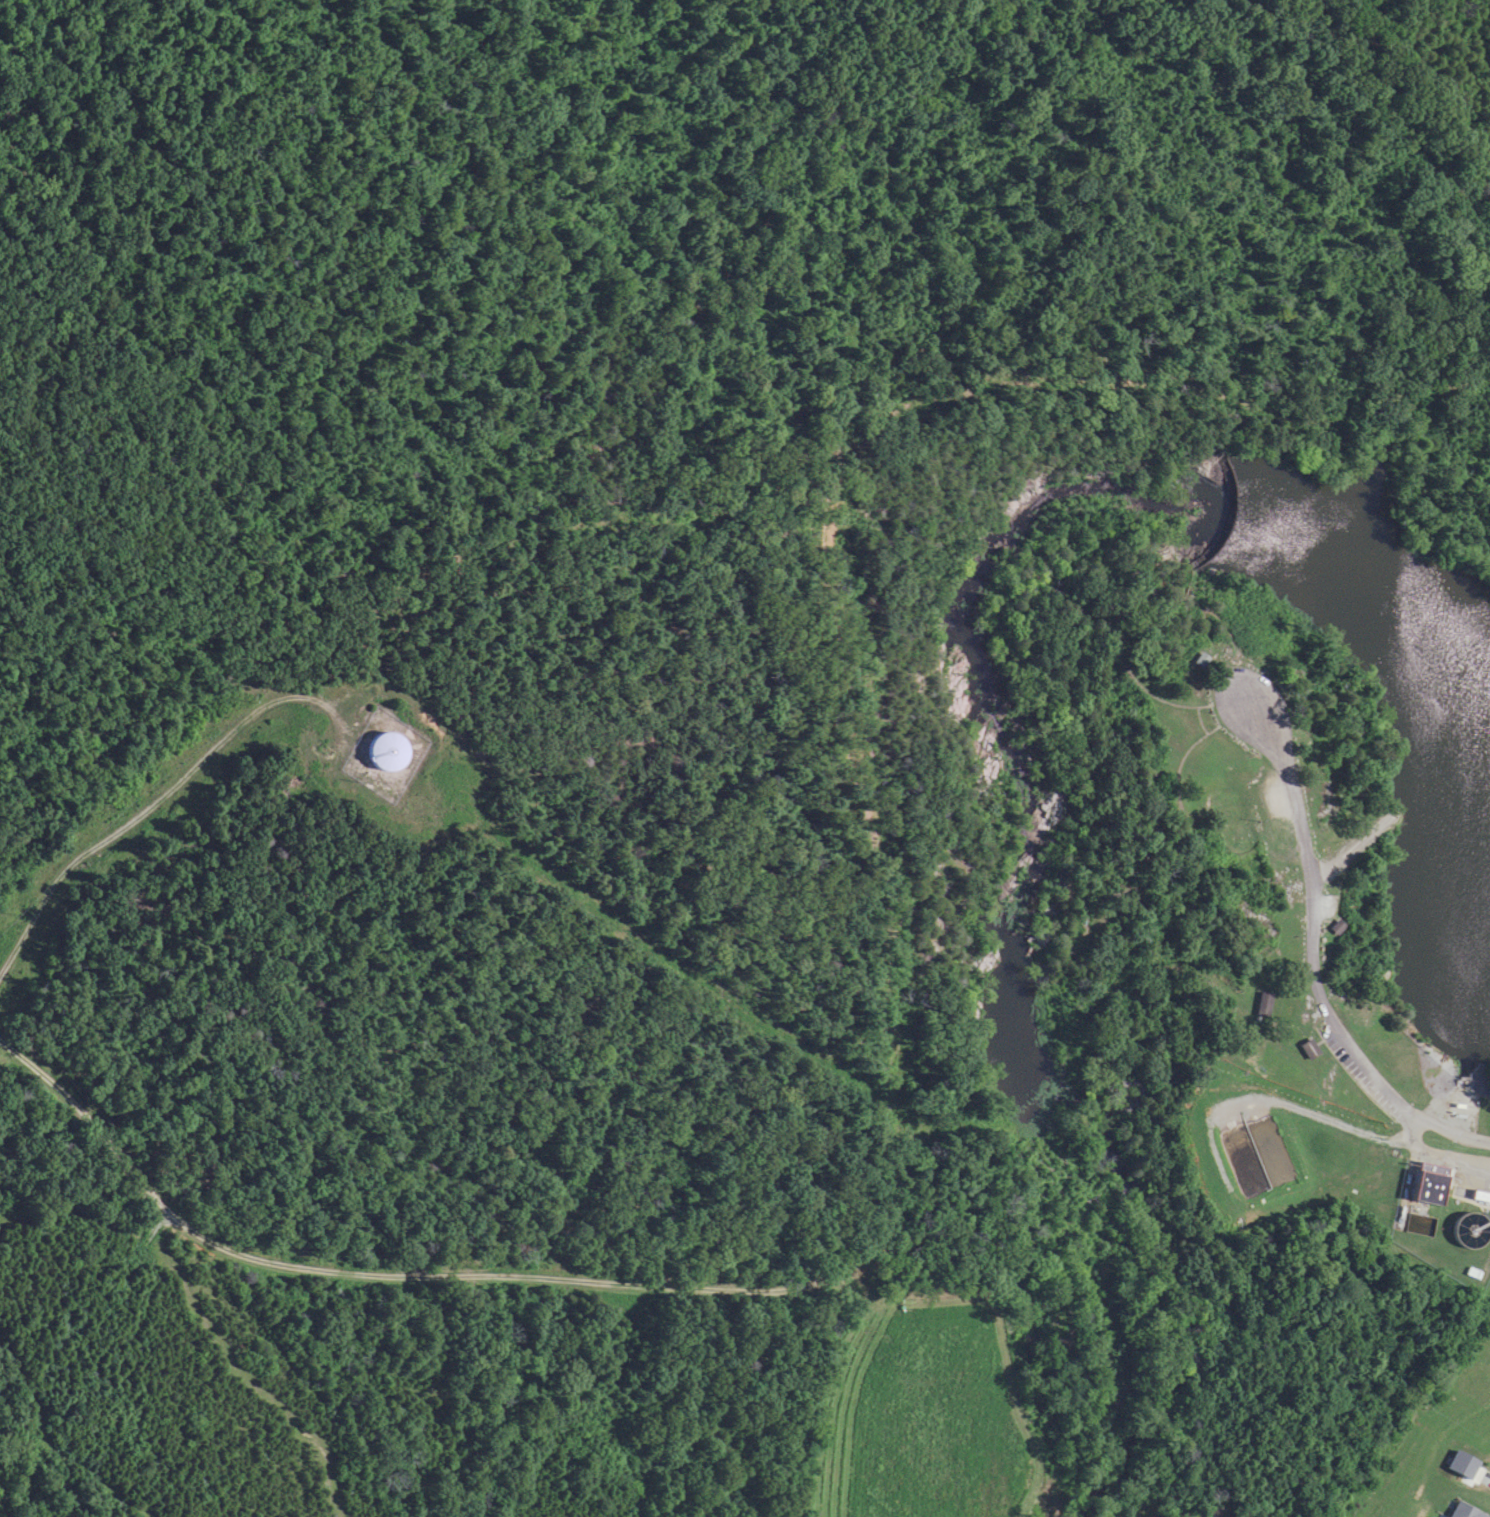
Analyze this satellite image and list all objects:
dam: (1231, 518)
building: (387, 751)
road: (1305, 962)
building: (1263, 1001)
building: (1307, 1048)
building: (1429, 1183)
building: (1474, 1232)

